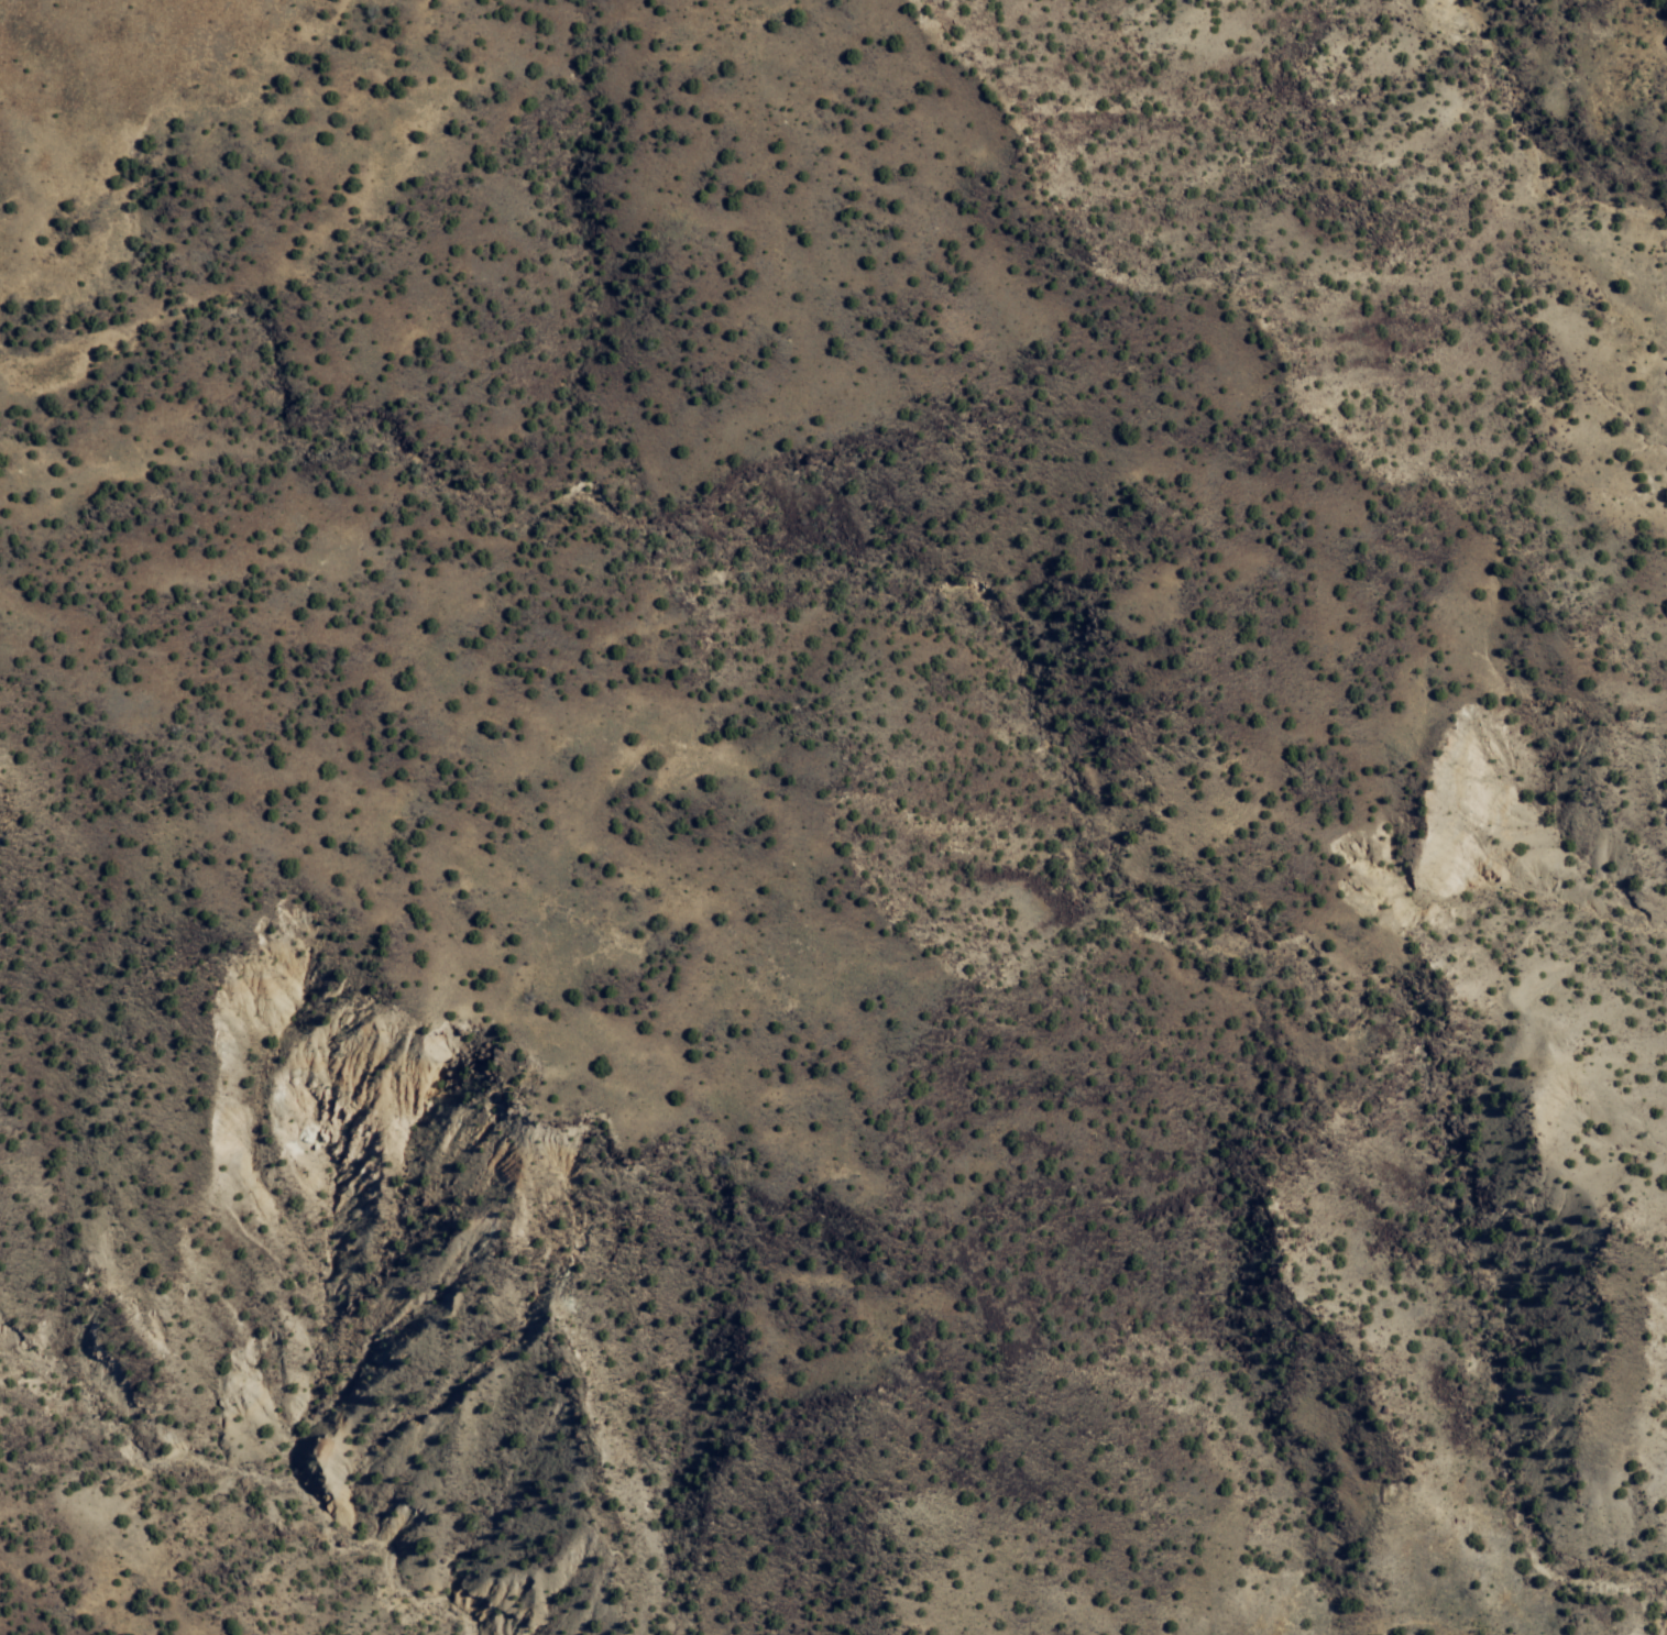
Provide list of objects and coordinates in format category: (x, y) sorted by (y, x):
road: (1383, 138)
road: (136, 201)

